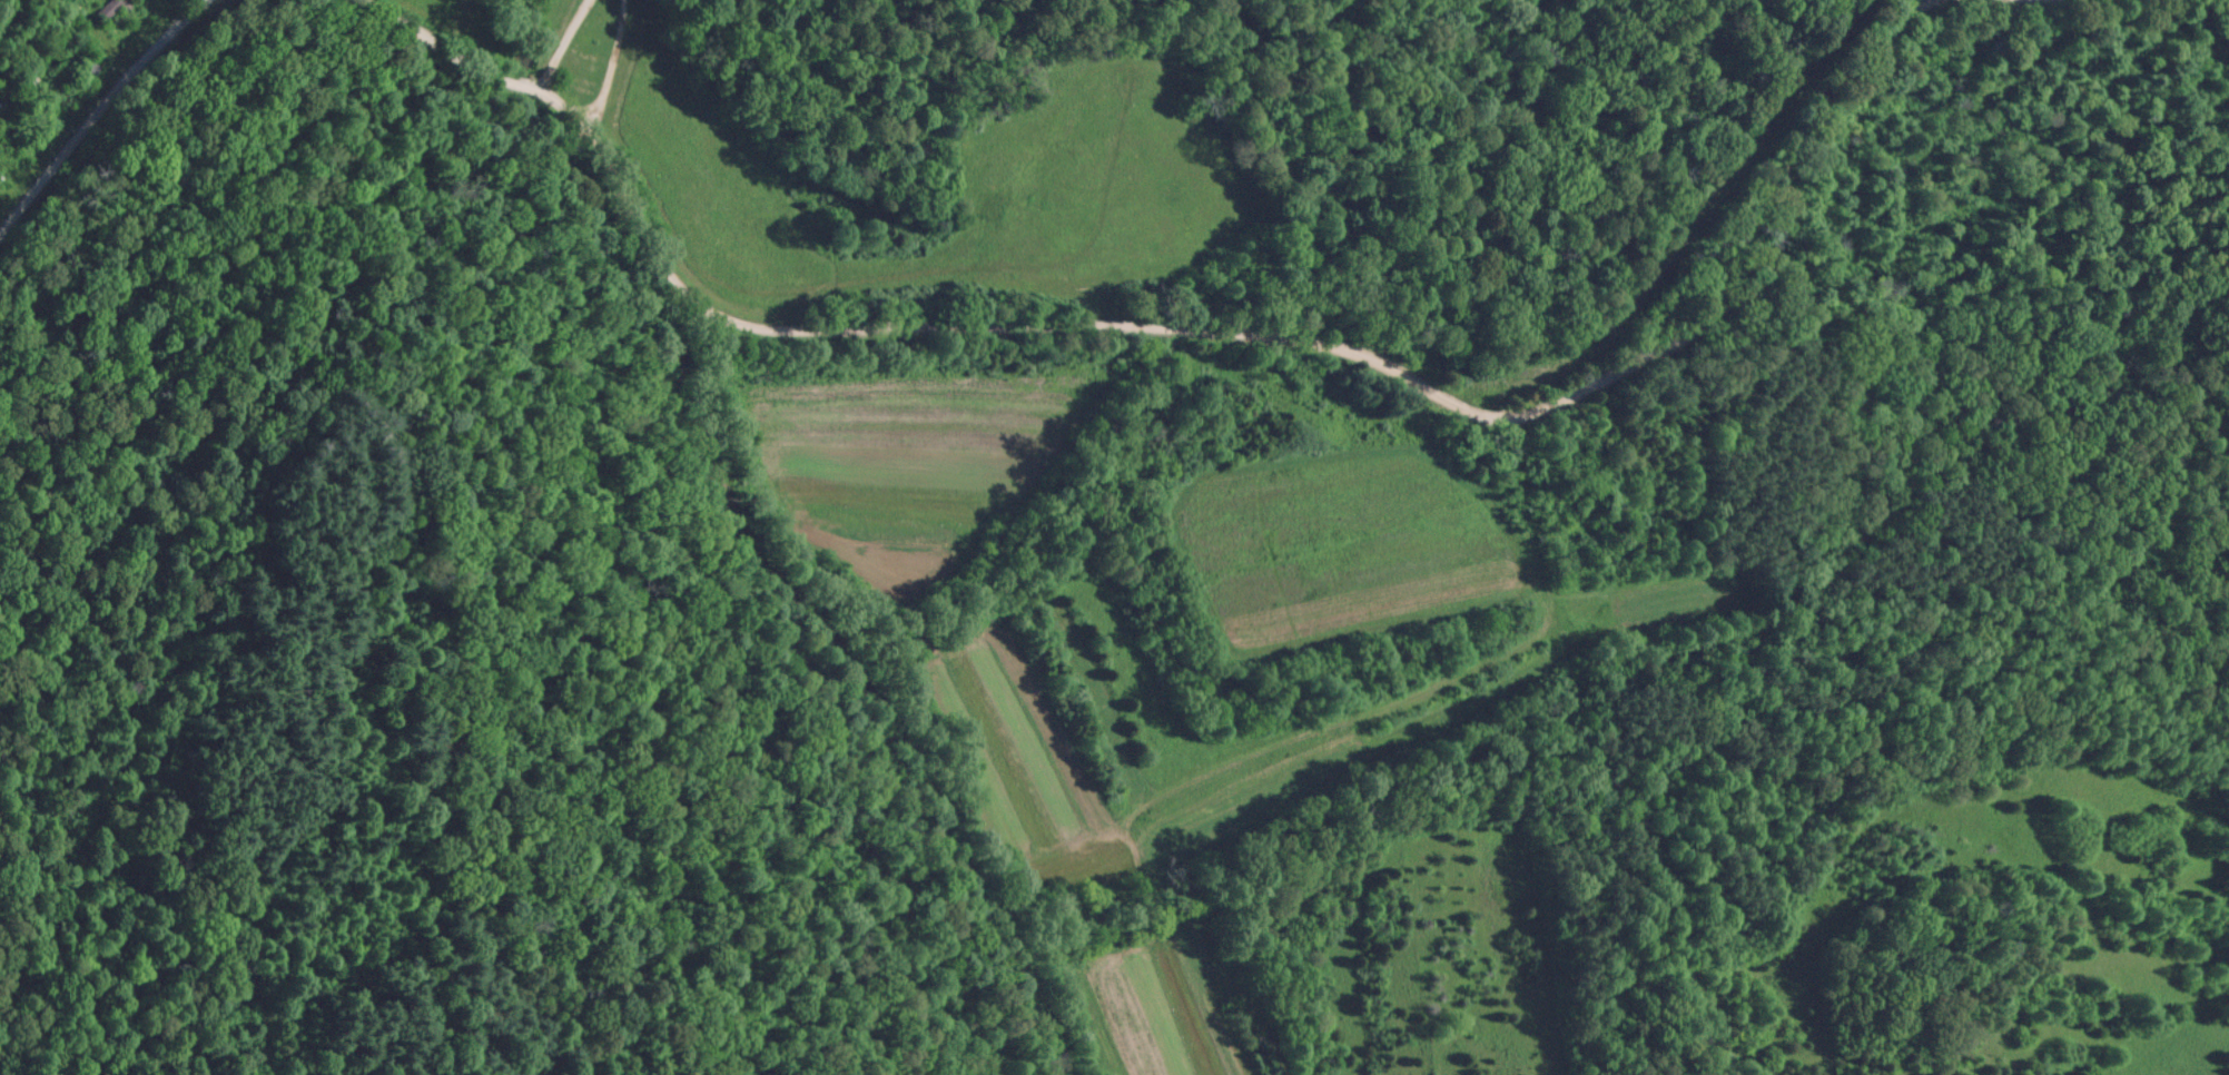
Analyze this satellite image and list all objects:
building: (106, 8)
road: (98, 112)
road: (1192, 328)

